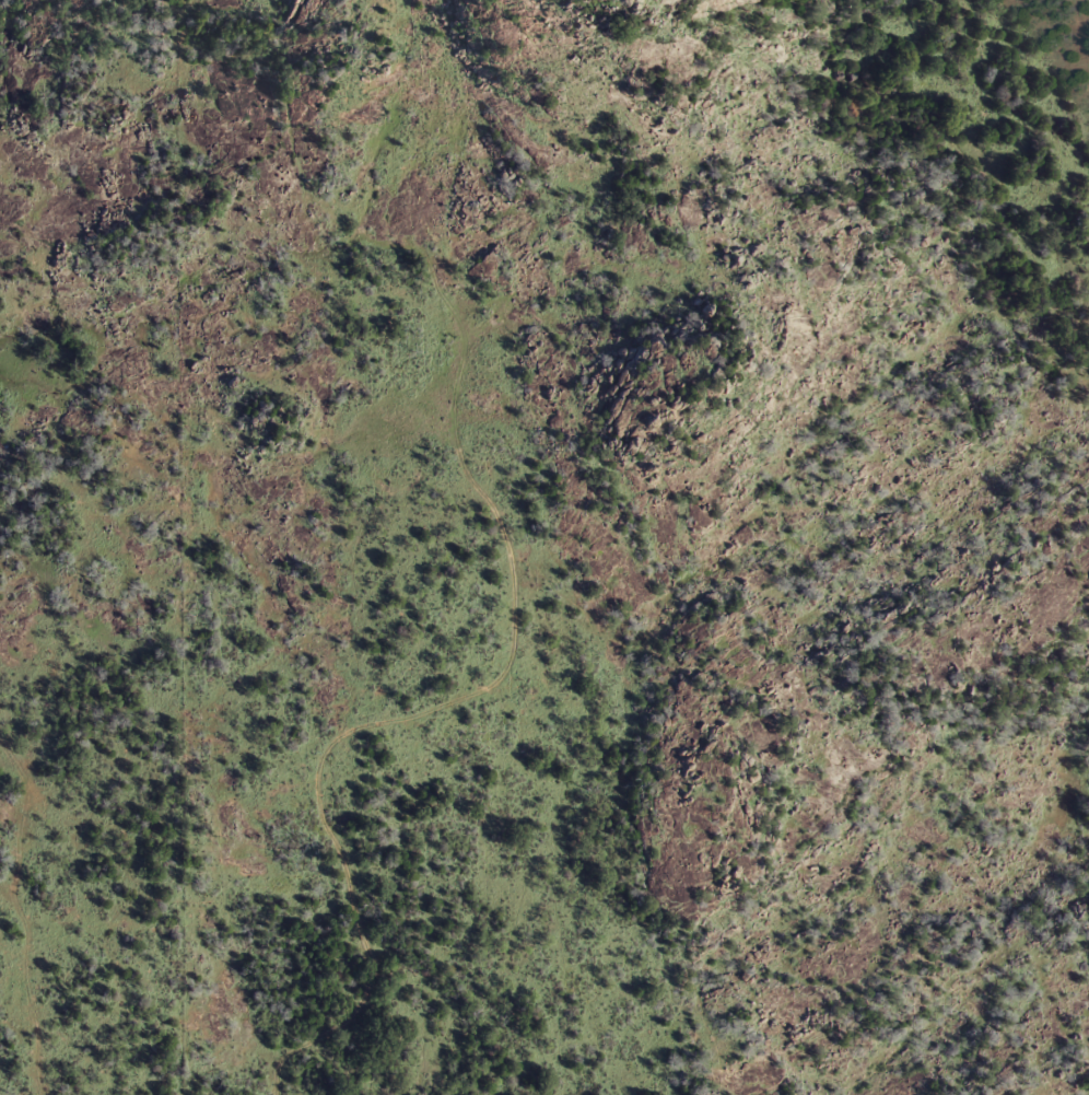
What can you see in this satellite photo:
road: (388, 722)
road: (23, 948)

